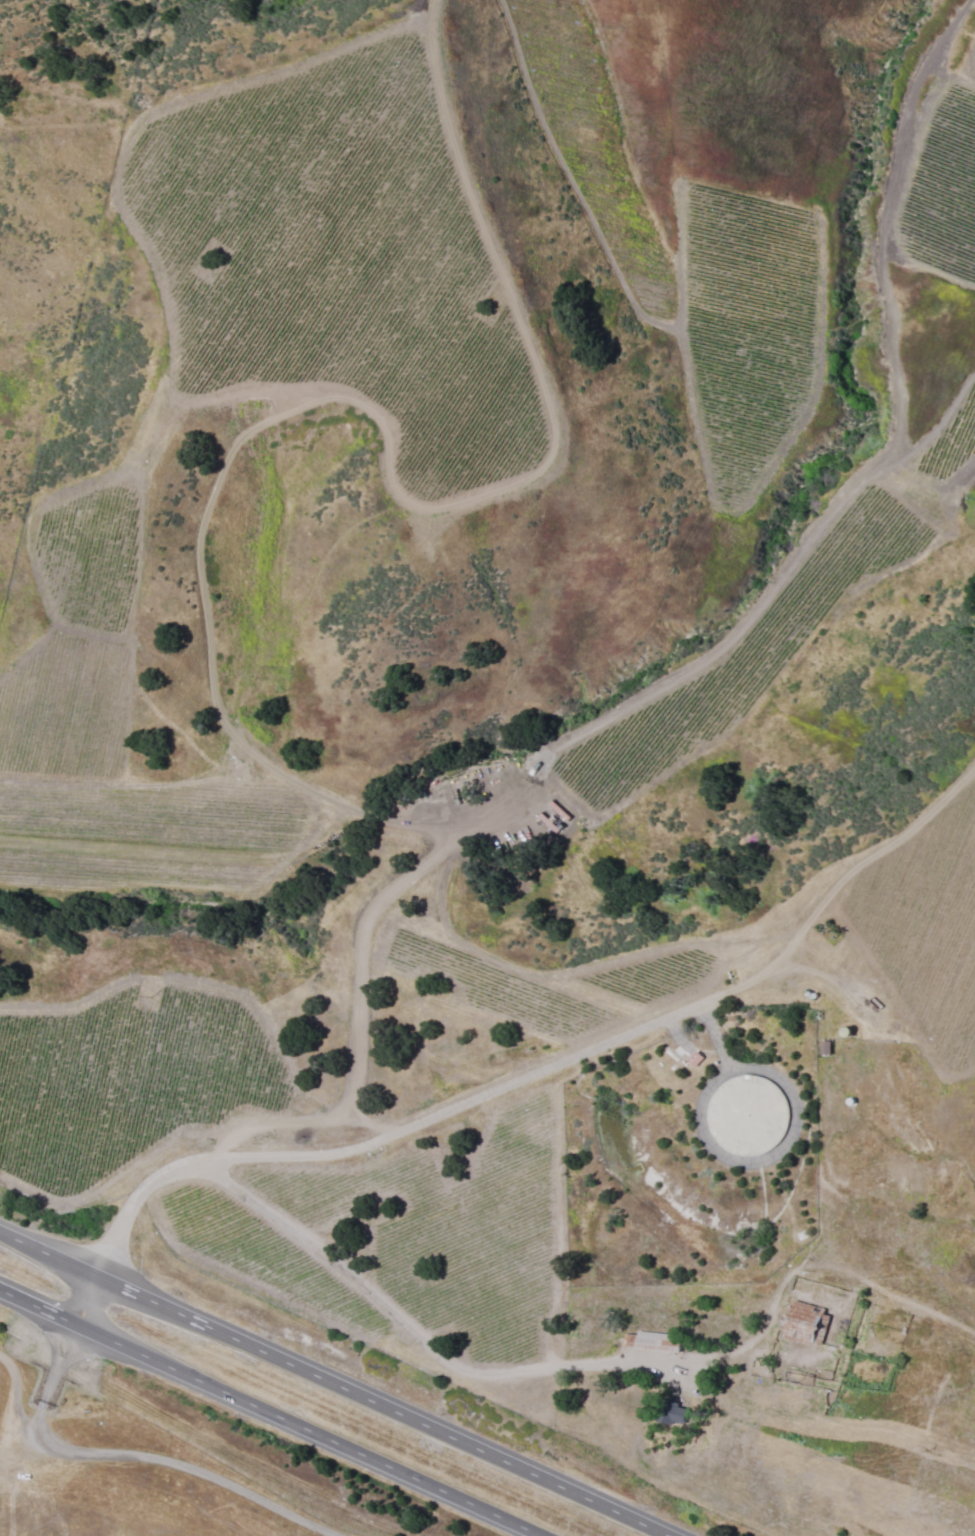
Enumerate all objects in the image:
crop: (942, 185)
crop: (478, 460)
crop: (704, 676)
crop: (925, 927)
road: (519, 1082)
road: (401, 1310)
building: (803, 1324)
building: (655, 1341)
road: (340, 1384)
road: (264, 1410)
building: (670, 1413)

